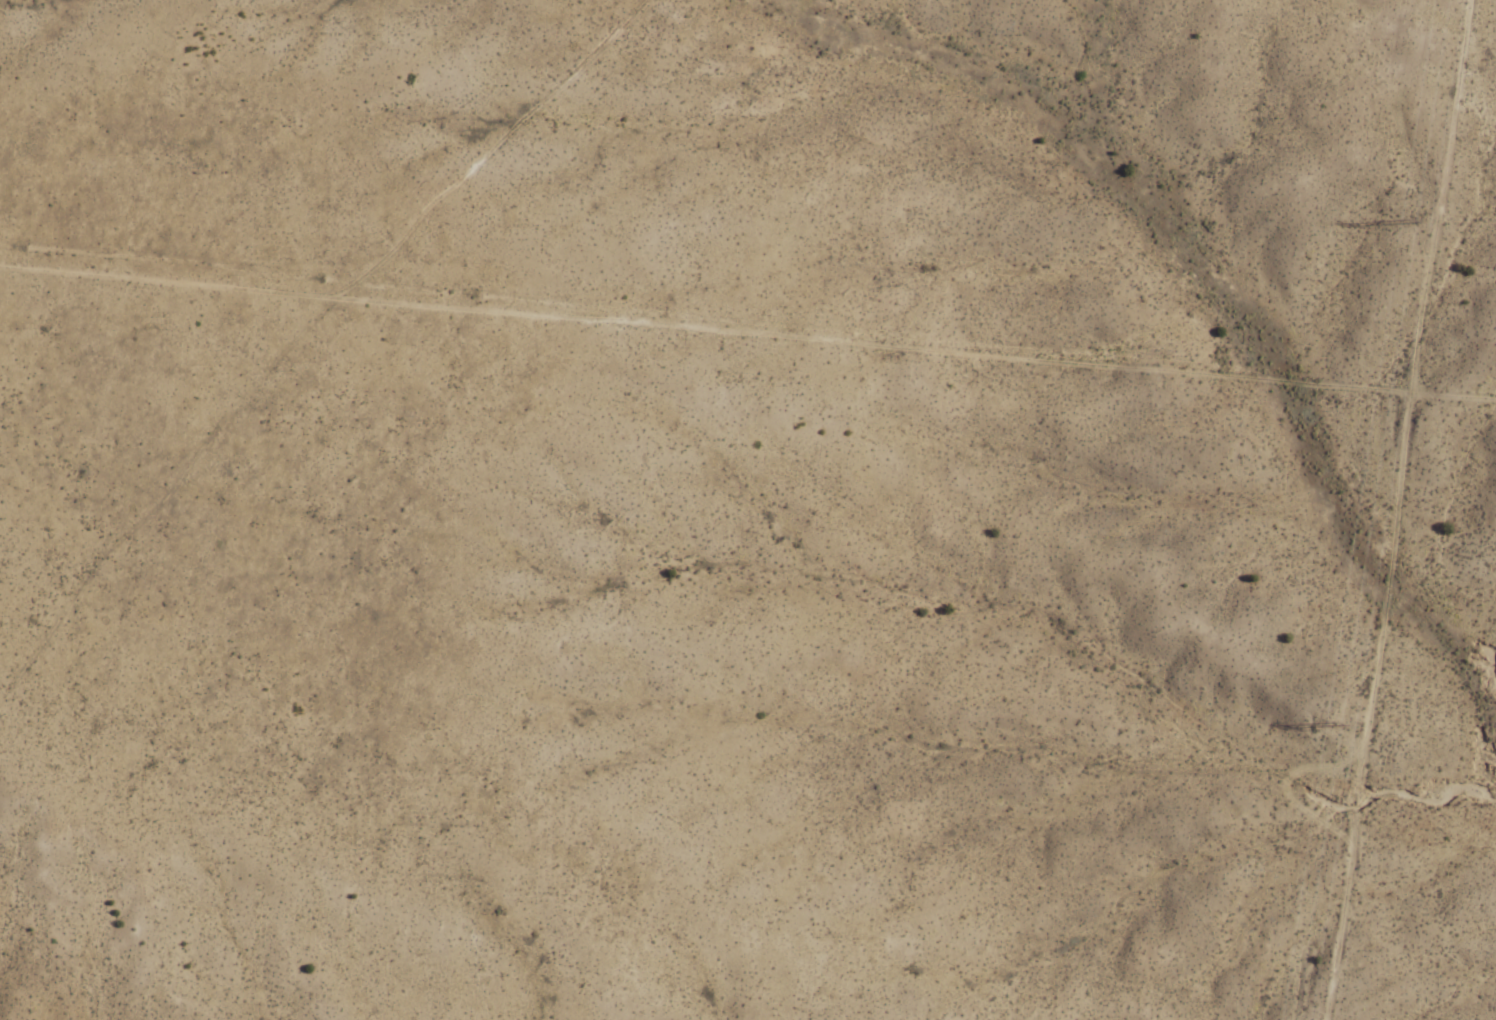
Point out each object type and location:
power tower: (1424, 218)
power tower: (1345, 723)

